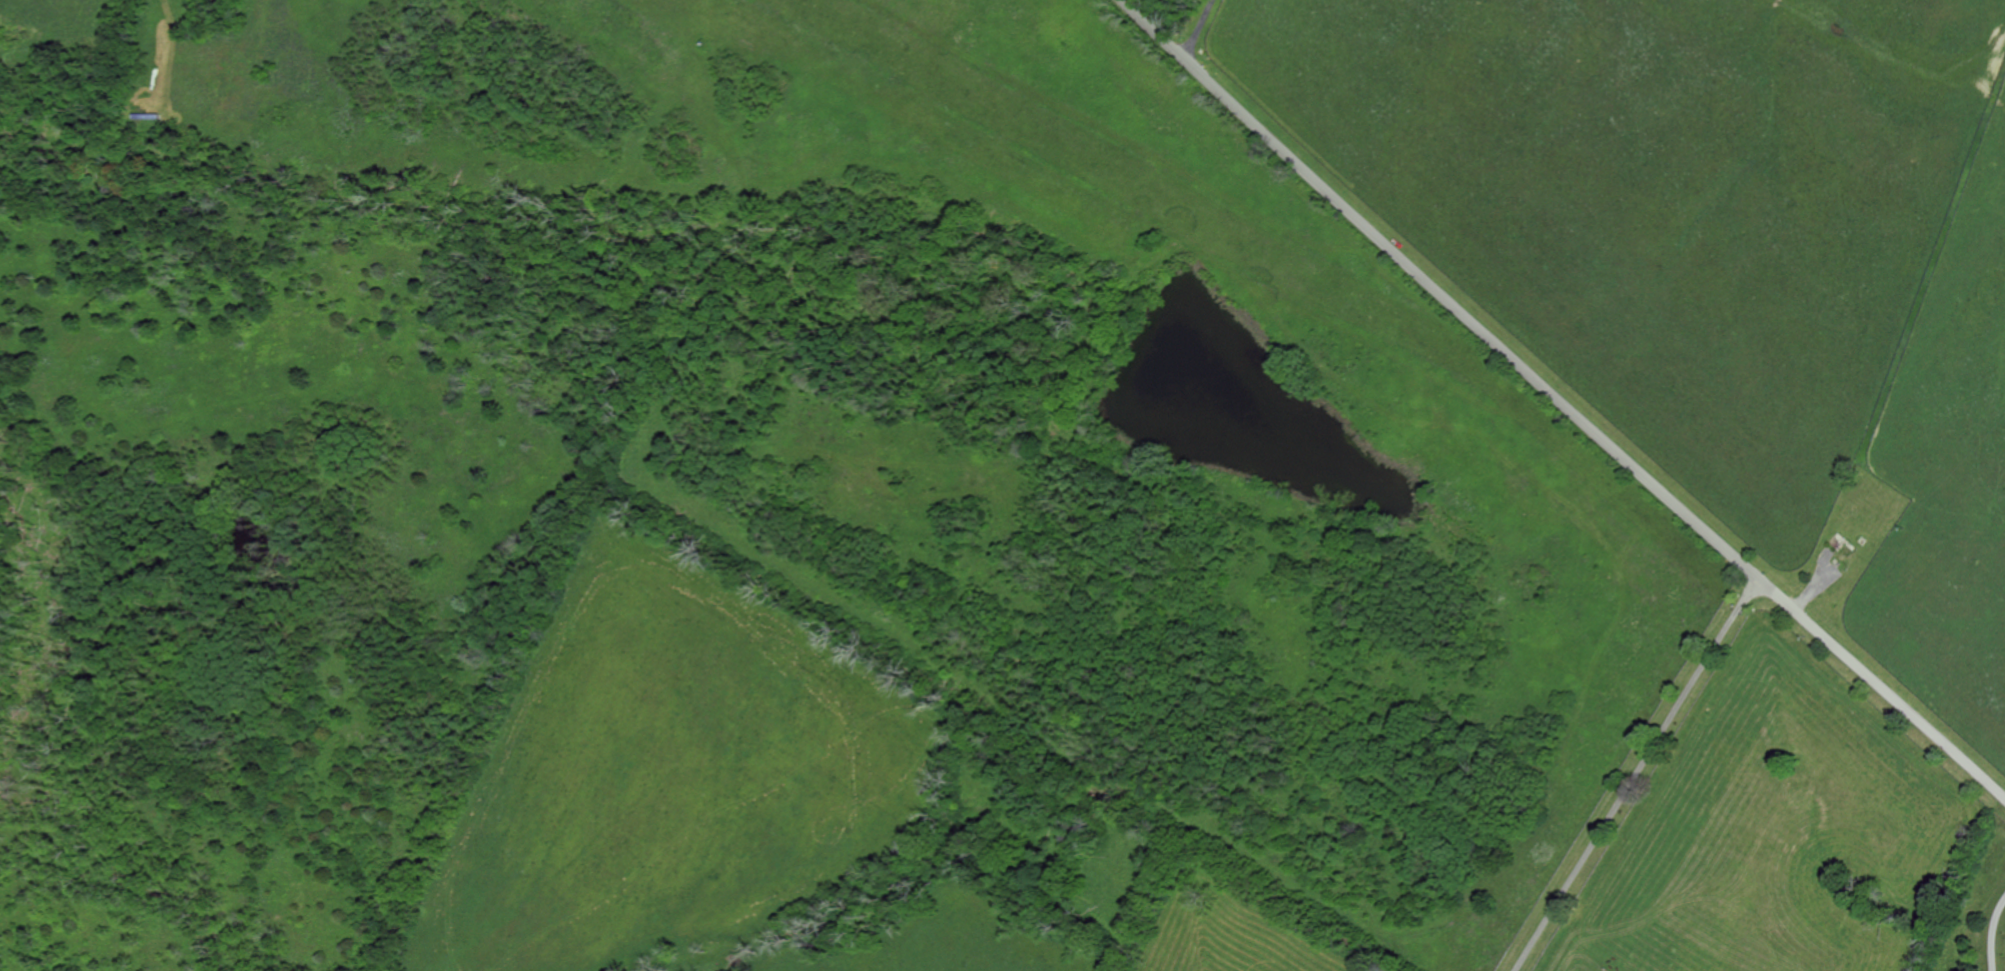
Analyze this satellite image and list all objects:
road: (1200, 28)
airport runway: (1126, 175)
road: (1563, 400)
road: (1637, 773)
road: (1995, 936)

